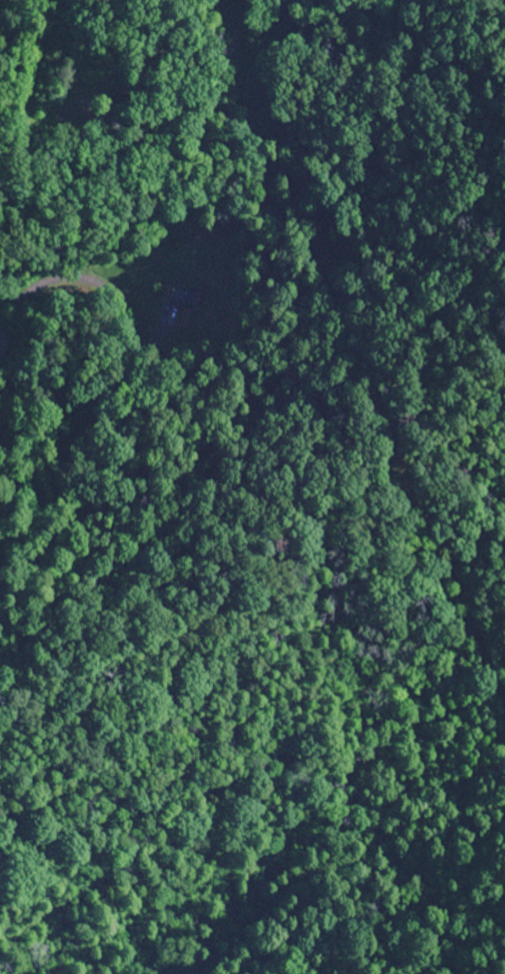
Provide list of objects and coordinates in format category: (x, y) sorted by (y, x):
building: (182, 299)
road: (147, 435)

